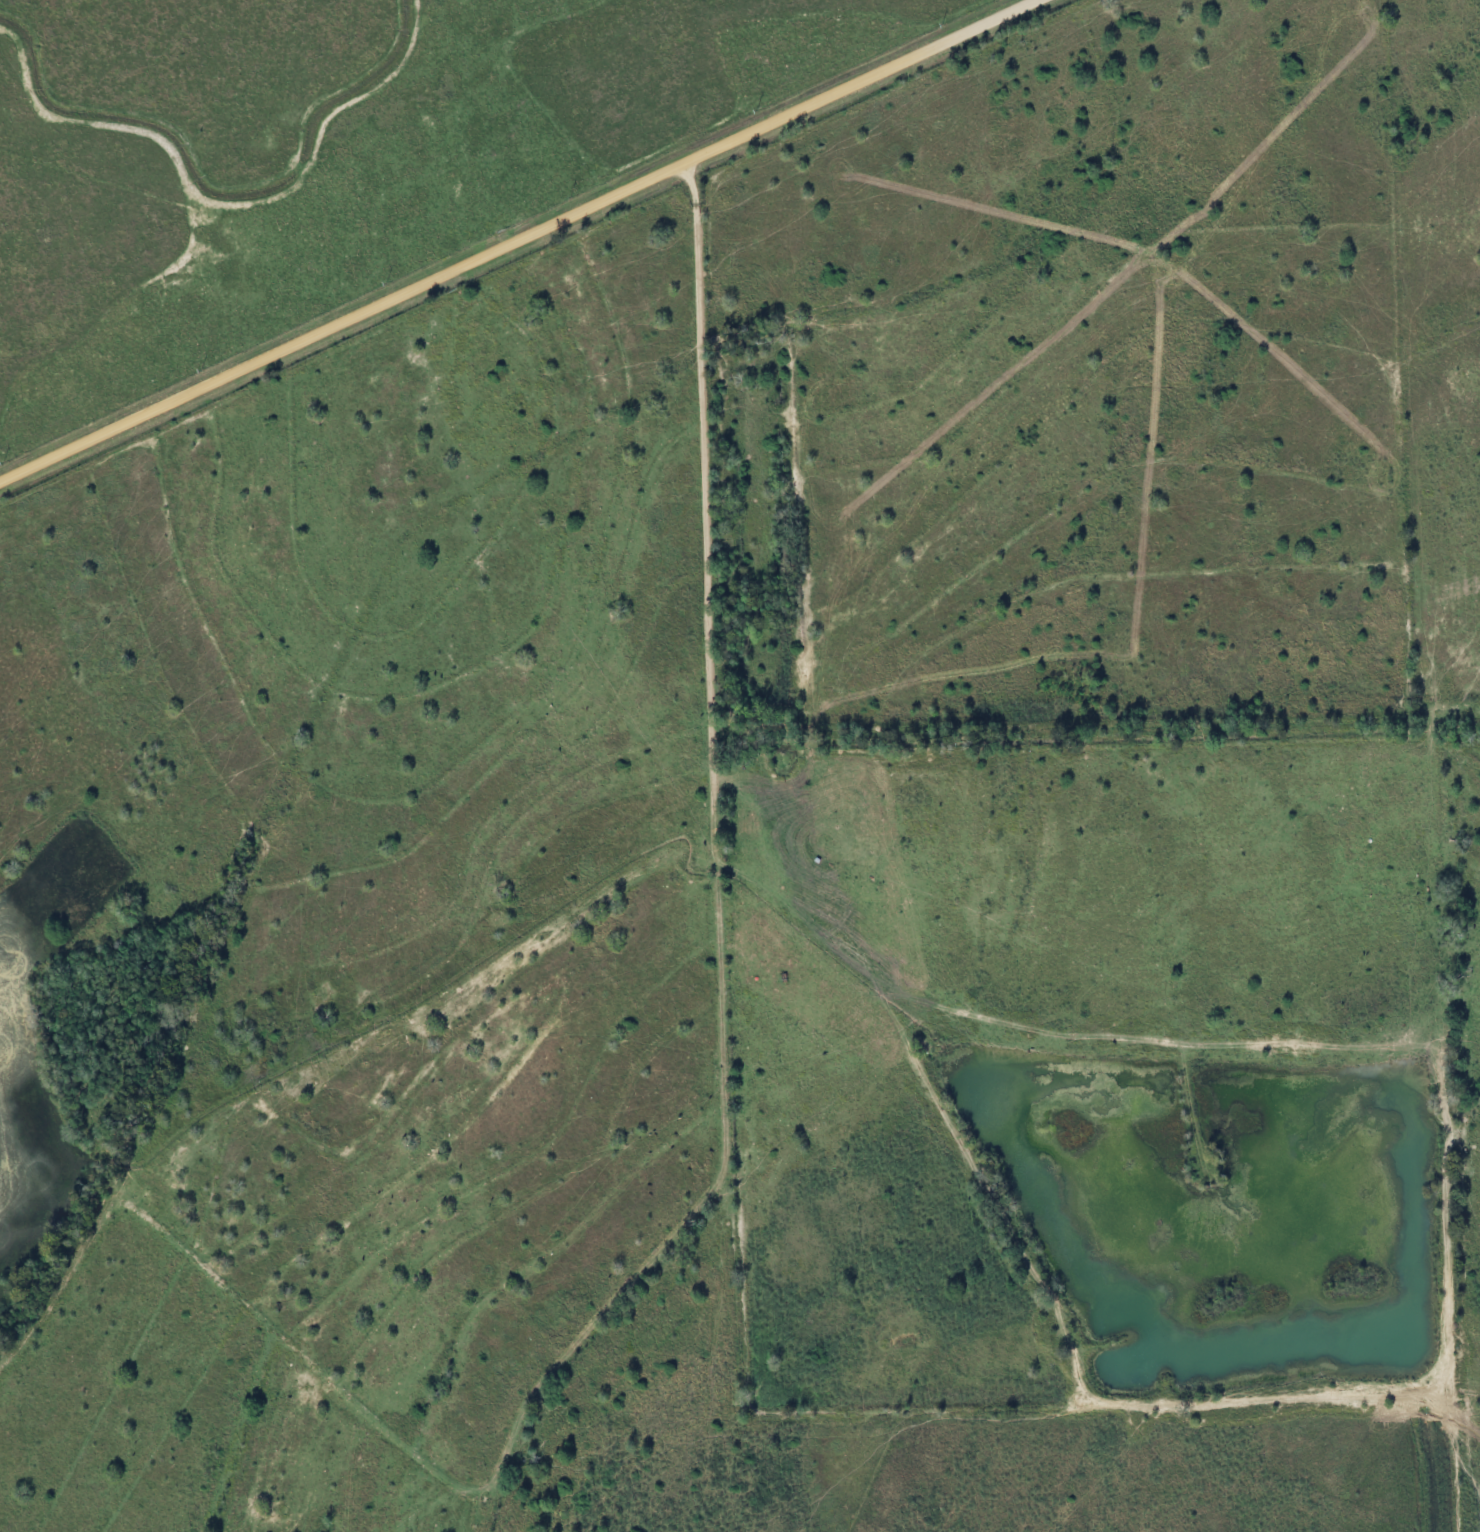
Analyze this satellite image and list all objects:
road: (511, 238)

